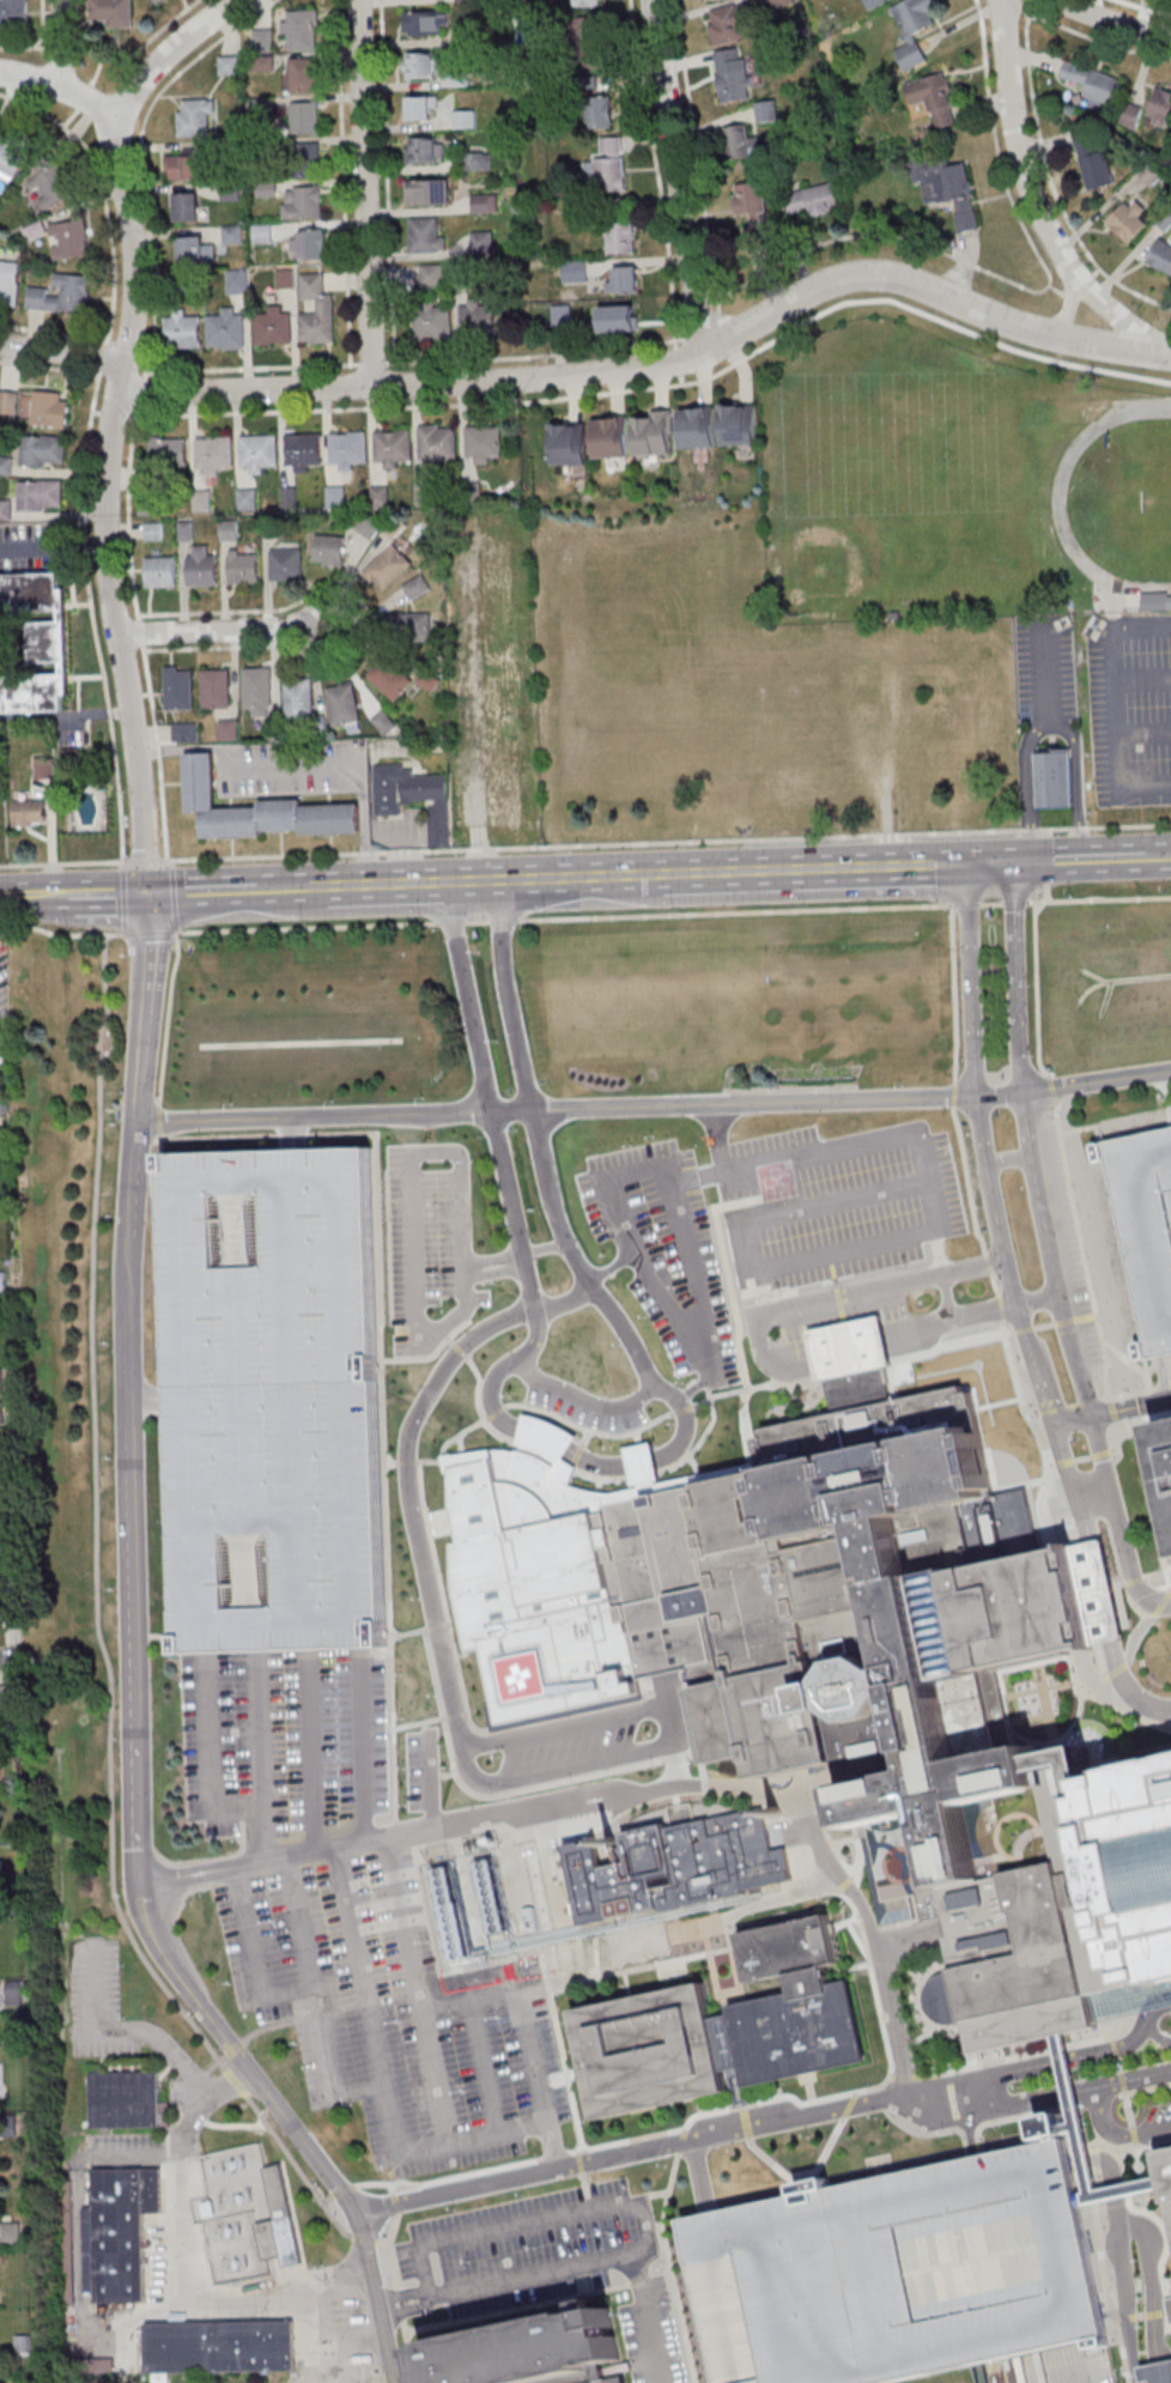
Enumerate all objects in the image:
building: (159, 1)
building: (585, 2)
building: (873, 2)
building: (111, 13)
building: (14, 14)
road: (1110, 18)
building: (730, 23)
building: (425, 24)
building: (914, 28)
road: (1062, 28)
building: (302, 31)
building: (588, 41)
road: (60, 44)
road: (172, 53)
road: (108, 57)
building: (423, 66)
road: (96, 72)
building: (303, 75)
building: (733, 75)
building: (460, 81)
building: (1093, 83)
road: (60, 87)
road: (84, 97)
building: (934, 98)
building: (595, 107)
building: (1161, 108)
building: (423, 109)
building: (766, 111)
building: (1131, 115)
road: (71, 117)
building: (196, 119)
building: (304, 119)
building: (742, 144)
building: (425, 150)
building: (14, 152)
building: (1092, 157)
building: (307, 158)
building: (478, 162)
building: (183, 168)
building: (608, 168)
road: (657, 172)
building: (1152, 172)
road: (678, 175)
road: (342, 182)
building: (50, 183)
building: (948, 188)
road: (368, 190)
building: (430, 193)
road: (102, 195)
road: (1038, 199)
building: (750, 200)
building: (813, 201)
building: (303, 204)
building: (485, 204)
building: (188, 208)
building: (613, 208)
road: (1070, 222)
building: (1130, 222)
building: (232, 235)
building: (426, 236)
building: (756, 236)
building: (621, 238)
building: (69, 239)
building: (483, 243)
building: (313, 244)
building: (196, 250)
road: (133, 254)
building: (1161, 256)
building: (575, 272)
building: (462, 273)
building: (431, 275)
building: (286, 278)
road: (156, 279)
building: (625, 281)
building: (10, 283)
building: (237, 283)
building: (188, 284)
building: (62, 295)
road: (1069, 310)
building: (317, 311)
building: (563, 315)
building: (619, 319)
building: (432, 320)
building: (479, 320)
building: (274, 327)
building: (226, 329)
building: (183, 331)
road: (61, 354)
road: (102, 359)
road: (413, 360)
road: (662, 365)
building: (11, 407)
building: (49, 411)
building: (741, 425)
building: (699, 429)
building: (655, 433)
building: (613, 438)
building: (438, 444)
building: (571, 444)
building: (484, 445)
building: (393, 447)
building: (348, 449)
building: (43, 450)
building: (169, 453)
building: (259, 453)
building: (304, 453)
building: (214, 454)
building: (5, 466)
road: (84, 487)
road: (1055, 493)
building: (41, 496)
park: (1157, 498)
building: (5, 511)
road: (108, 515)
building: (514, 519)
building: (370, 527)
building: (396, 528)
road: (54, 550)
building: (330, 551)
road: (68, 576)
road: (323, 605)
road: (368, 623)
road: (96, 629)
road: (214, 630)
road: (141, 632)
building: (37, 643)
parking lot: (1048, 673)
road: (1145, 677)
road: (1051, 678)
road: (1120, 681)
road: (78, 697)
parking lot: (1131, 711)
road: (66, 717)
road: (1146, 733)
road: (115, 751)
road: (160, 754)
road: (139, 763)
road: (298, 770)
road: (1033, 784)
road: (1078, 784)
road: (1147, 786)
road: (584, 845)
road: (1048, 857)
road: (1080, 859)
traffic signals: (990, 862)
road: (825, 868)
road: (570, 878)
road: (400, 884)
road: (289, 886)
road: (241, 887)
road: (186, 889)
traffic signals: (147, 893)
road: (1050, 893)
road: (29, 895)
road: (135, 895)
road: (91, 896)
road: (175, 896)
road: (123, 898)
road: (1100, 899)
road: (1017, 902)
road: (994, 904)
road: (969, 905)
road: (148, 912)
road: (565, 917)
road: (151, 932)
road: (61, 934)
road: (1019, 974)
road: (973, 976)
road: (1039, 990)
road: (957, 993)
road: (467, 996)
road: (169, 1017)
road: (146, 1027)
road: (1167, 1087)
road: (1055, 1090)
road: (957, 1095)
road: (655, 1105)
road: (159, 1122)
street lamp: (520, 1128)
road: (1088, 1128)
road: (292, 1135)
road: (261, 1138)
road: (722, 1138)
road: (898, 1138)
road: (1012, 1159)
road: (636, 1171)
road: (971, 1181)
road: (819, 1205)
street lamp: (536, 1209)
parking lot: (866, 1212)
building: (1146, 1229)
parking lot: (1146, 1229)
parking lot: (431, 1244)
road: (845, 1251)
road: (1085, 1251)
street lamp: (609, 1253)
parking lot: (669, 1253)
road: (516, 1254)
road: (993, 1263)
road: (497, 1273)
road: (855, 1277)
road: (996, 1284)
street lamp: (1003, 1284)
street lamp: (554, 1288)
road: (763, 1291)
road: (735, 1294)
road: (841, 1302)
road: (1005, 1308)
street lamp: (915, 1312)
road: (451, 1320)
road: (1078, 1320)
road: (1048, 1326)
road: (1007, 1328)
road: (1027, 1330)
road: (1012, 1333)
road: (972, 1339)
road: (460, 1347)
road: (433, 1356)
road: (767, 1356)
road: (1079, 1362)
building: (854, 1363)
road: (1133, 1363)
road: (854, 1364)
road: (947, 1364)
road: (921, 1375)
road: (1166, 1378)
road: (801, 1382)
road: (1134, 1393)
road: (687, 1395)
road: (583, 1400)
road: (153, 1401)
road: (801, 1401)
building: (278, 1403)
parking lot: (278, 1403)
road: (656, 1405)
road: (1000, 1405)
road: (1073, 1406)
road: (1112, 1412)
road: (1116, 1412)
road: (1037, 1414)
building: (0, 1415)
road: (746, 1417)
road: (1054, 1419)
road: (1037, 1423)
road: (1130, 1423)
road: (491, 1425)
road: (574, 1425)
road: (659, 1426)
building: (866, 1427)
building: (548, 1438)
street lamp: (1082, 1438)
road: (564, 1439)
road: (450, 1442)
building: (1165, 1447)
road: (384, 1456)
building: (647, 1457)
road: (1085, 1459)
road: (392, 1461)
road: (409, 1462)
building: (879, 1482)
road: (630, 1484)
road: (1096, 1493)
building: (738, 1514)
road: (1013, 1514)
road: (96, 1520)
building: (0, 1576)
building: (667, 1578)
road: (1128, 1582)
building: (538, 1589)
building: (1098, 1594)
building: (789, 1596)
road: (447, 1603)
building: (1024, 1609)
building: (952, 1626)
road: (438, 1627)
road: (409, 1633)
road: (158, 1637)
road: (1135, 1649)
flagpole: (1170, 1660)
helipad: (528, 1676)
road: (450, 1681)
building: (856, 1688)
road: (439, 1696)
road: (139, 1703)
road: (1108, 1703)
road: (457, 1716)
building: (764, 1720)
building: (932, 1730)
parking lot: (286, 1741)
road: (363, 1746)
road: (311, 1752)
road: (211, 1758)
road: (260, 1758)
building: (1069, 1762)
road: (679, 1763)
road: (429, 1783)
chimney: (775, 1813)
road: (374, 1842)
road: (838, 1843)
chimney: (608, 1844)
road: (826, 1855)
road: (860, 1857)
building: (914, 1861)
building: (1135, 1862)
building: (673, 1866)
road: (845, 1885)
road: (788, 1904)
building: (450, 1911)
road: (857, 1938)
building: (633, 1942)
building: (785, 1950)
building: (1021, 1955)
road: (255, 1959)
building: (547, 1961)
road: (644, 1967)
road: (848, 1970)
building: (465, 1978)
road: (629, 1985)
road: (97, 1987)
road: (415, 1991)
building: (14, 1993)
road: (1139, 1993)
parking lot: (98, 2000)
road: (315, 2003)
parking lot: (394, 2014)
road: (1110, 2014)
road: (279, 2024)
road: (524, 2033)
road: (1157, 2035)
road: (153, 2041)
building: (711, 2043)
road: (237, 2048)
road: (1116, 2048)
road: (1021, 2055)
road: (1084, 2056)
road: (1120, 2063)
road: (565, 2064)
road: (210, 2067)
road: (483, 2068)
road: (383, 2075)
road: (909, 2075)
road: (560, 2079)
building: (1068, 2079)
road: (1123, 2080)
road: (237, 2082)
road: (934, 2082)
road: (811, 2087)
road: (740, 2088)
road: (1145, 2090)
road: (1069, 2093)
road: (973, 2098)
building: (128, 2100)
road: (1102, 2100)
road: (849, 2104)
road: (882, 2105)
road: (744, 2106)
road: (1129, 2109)
road: (721, 2111)
parking lot: (1158, 2112)
road: (1018, 2117)
road: (200, 2118)
road: (930, 2120)
road: (746, 2122)
road: (237, 2124)
building: (1050, 2128)
road: (935, 2132)
road: (1117, 2134)
road: (1135, 2135)
road: (972, 2136)
road: (680, 2141)
road: (826, 2148)
road: (1147, 2149)
road: (627, 2151)
road: (1094, 2158)
road: (581, 2161)
road: (771, 2161)
road: (295, 2163)
building: (1167, 2166)
road: (699, 2176)
road: (802, 2176)
road: (1143, 2178)
road: (1106, 2182)
road: (393, 2188)
road: (344, 2189)
road: (589, 2191)
road: (651, 2196)
road: (328, 2200)
road: (395, 2202)
road: (1135, 2208)
power substation: (245, 2213)
building: (278, 2221)
road: (1131, 2225)
road: (512, 2229)
building: (125, 2231)
road: (346, 2232)
road: (1100, 2232)
road: (364, 2238)
road: (383, 2244)
road: (389, 2250)
road: (193, 2261)
parking lot: (553, 2264)
road: (554, 2268)
road: (668, 2268)
building: (897, 2273)
parking lot: (897, 2273)
road: (402, 2293)
road: (376, 2298)
road: (1114, 2299)
road: (399, 2303)
road: (538, 2304)
road: (406, 2306)
road: (1110, 2308)
road: (1169, 2312)
road: (1155, 2315)
road: (1143, 2317)
road: (644, 2318)
road: (1126, 2318)
building: (223, 2347)
road: (1124, 2349)
road: (409, 2351)
building: (527, 2351)
road: (4, 2359)
road: (1073, 2363)
road: (645, 2364)
building: (597, 2372)
building: (1158, 2373)
building: (615, 2381)

